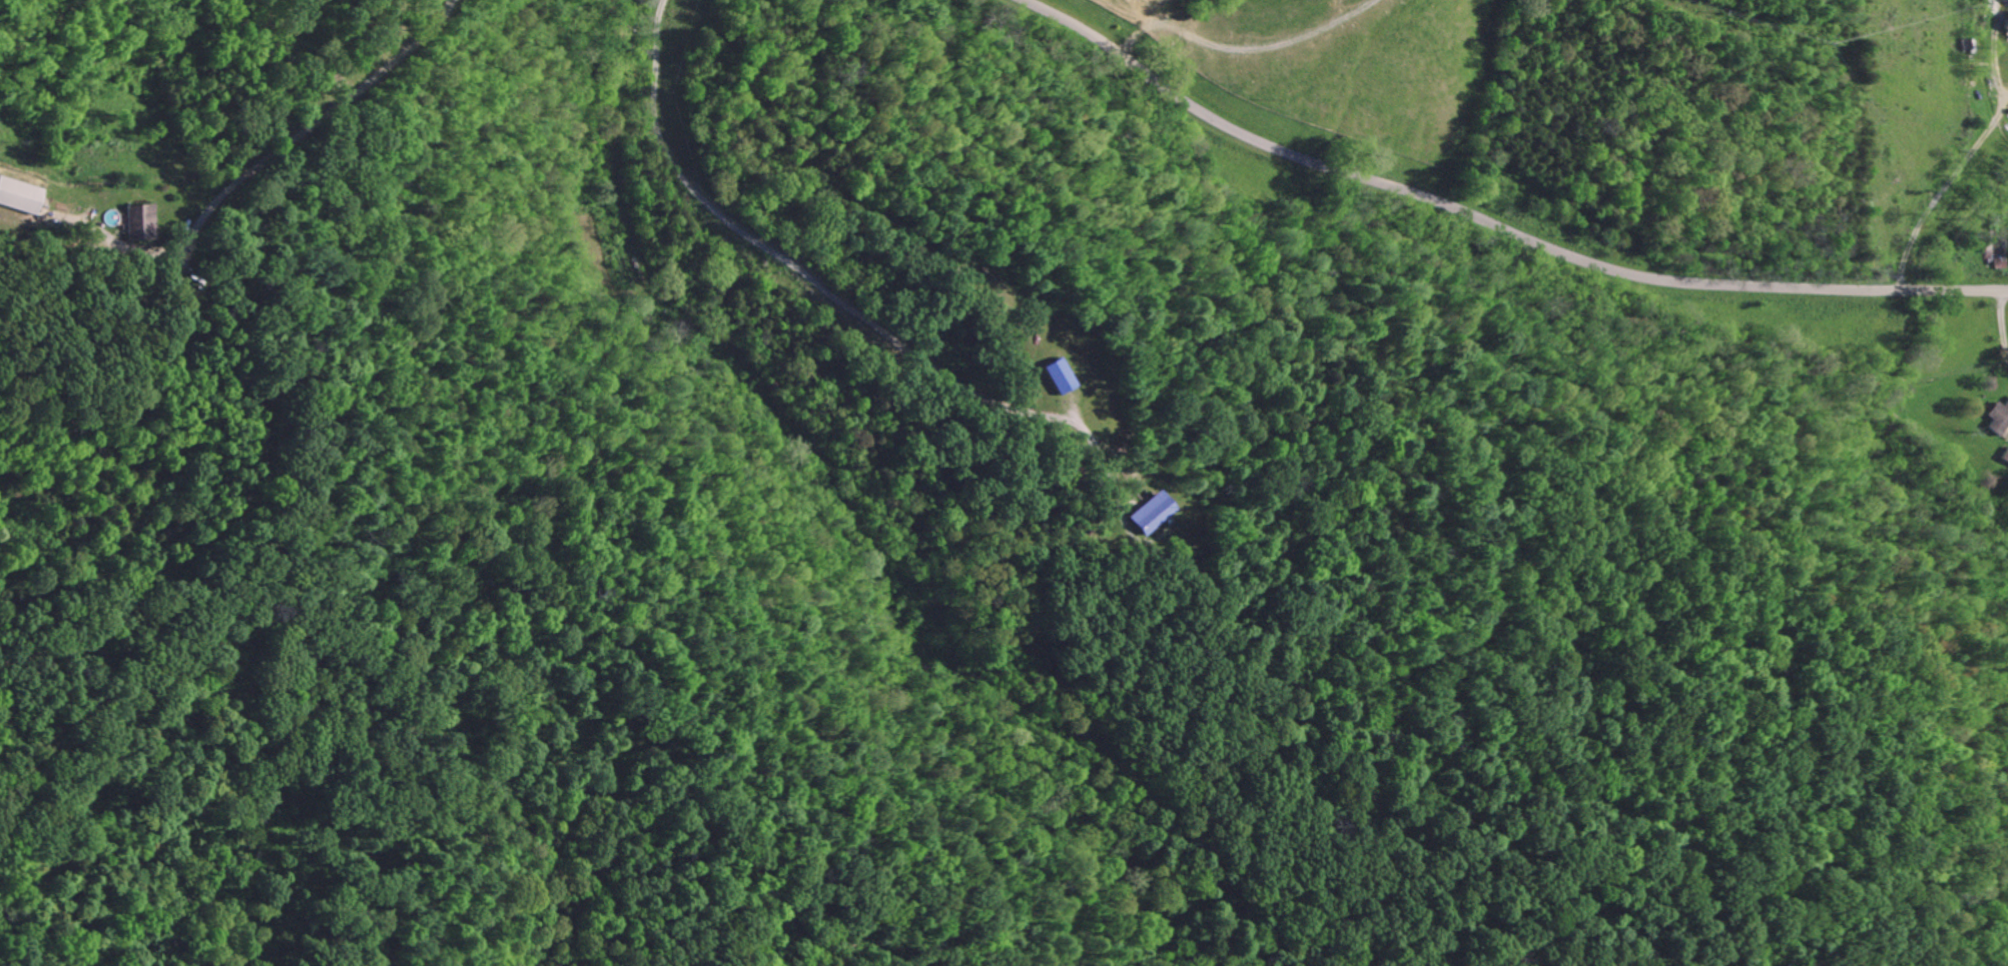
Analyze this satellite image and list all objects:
building: (2006, 26)
road: (1230, 42)
road: (303, 127)
road: (1942, 191)
building: (17, 197)
building: (135, 223)
road: (1491, 226)
building: (1999, 236)
road: (806, 285)
road: (2000, 326)
building: (1057, 376)
building: (1999, 420)
building: (2005, 457)
building: (1150, 514)

